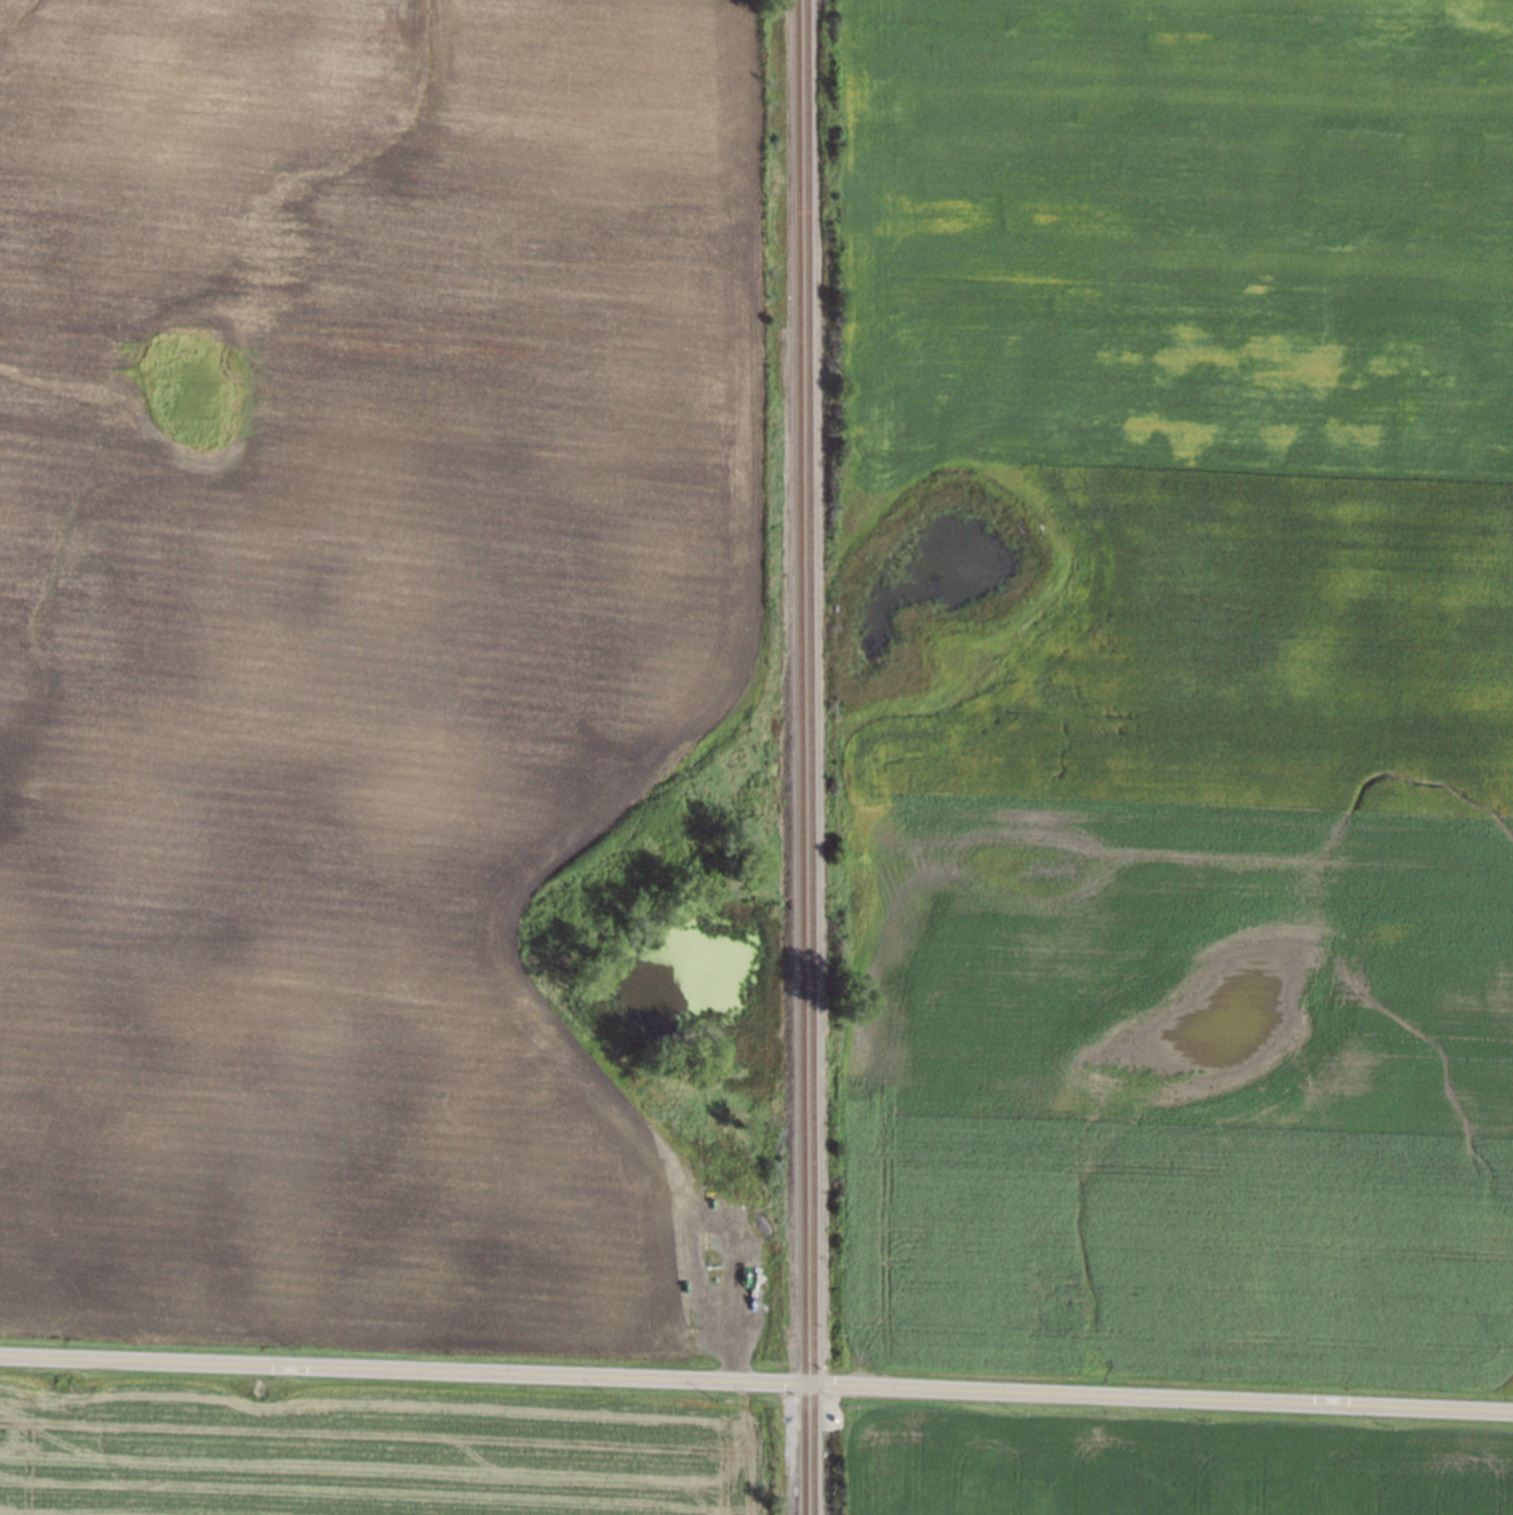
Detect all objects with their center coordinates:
crop: (355, 634)
crop: (1191, 691)
railway: (800, 757)
railway: (810, 757)
road: (756, 1381)
crop: (384, 1456)
crop: (1169, 1465)

